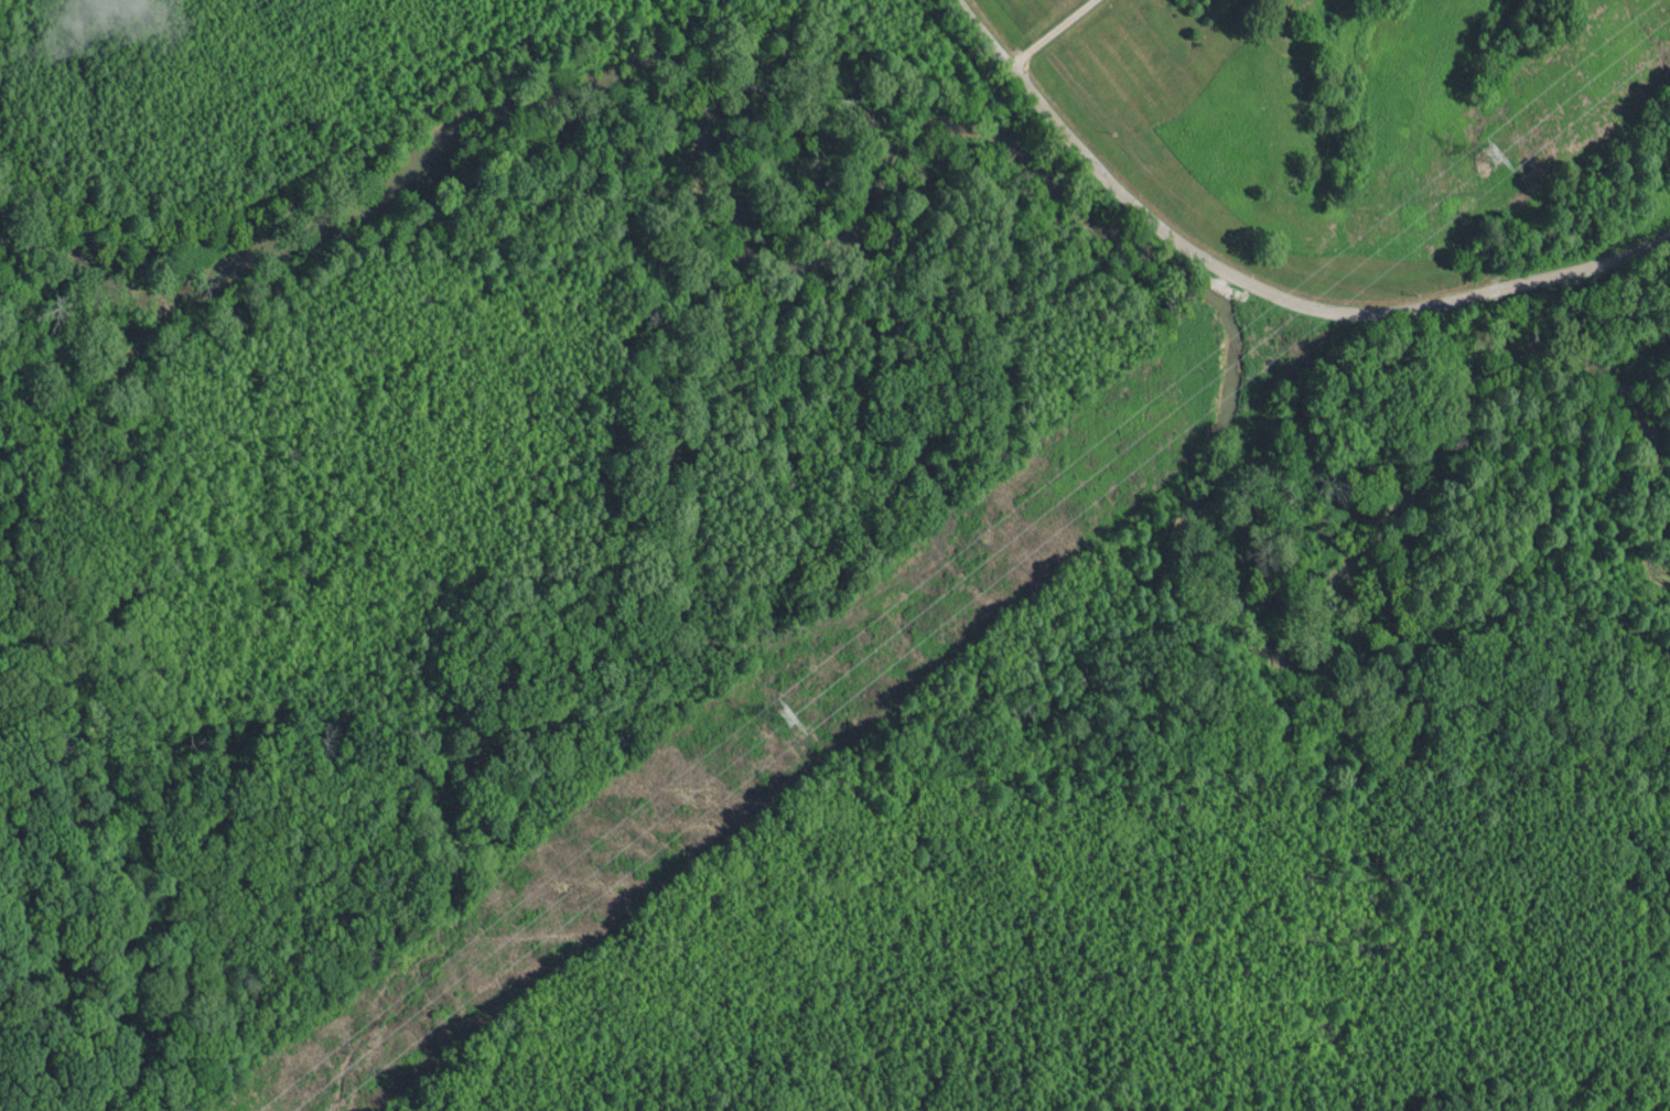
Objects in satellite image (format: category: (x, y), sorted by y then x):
power tower: (1490, 153)
road: (1263, 289)
power tower: (786, 715)

